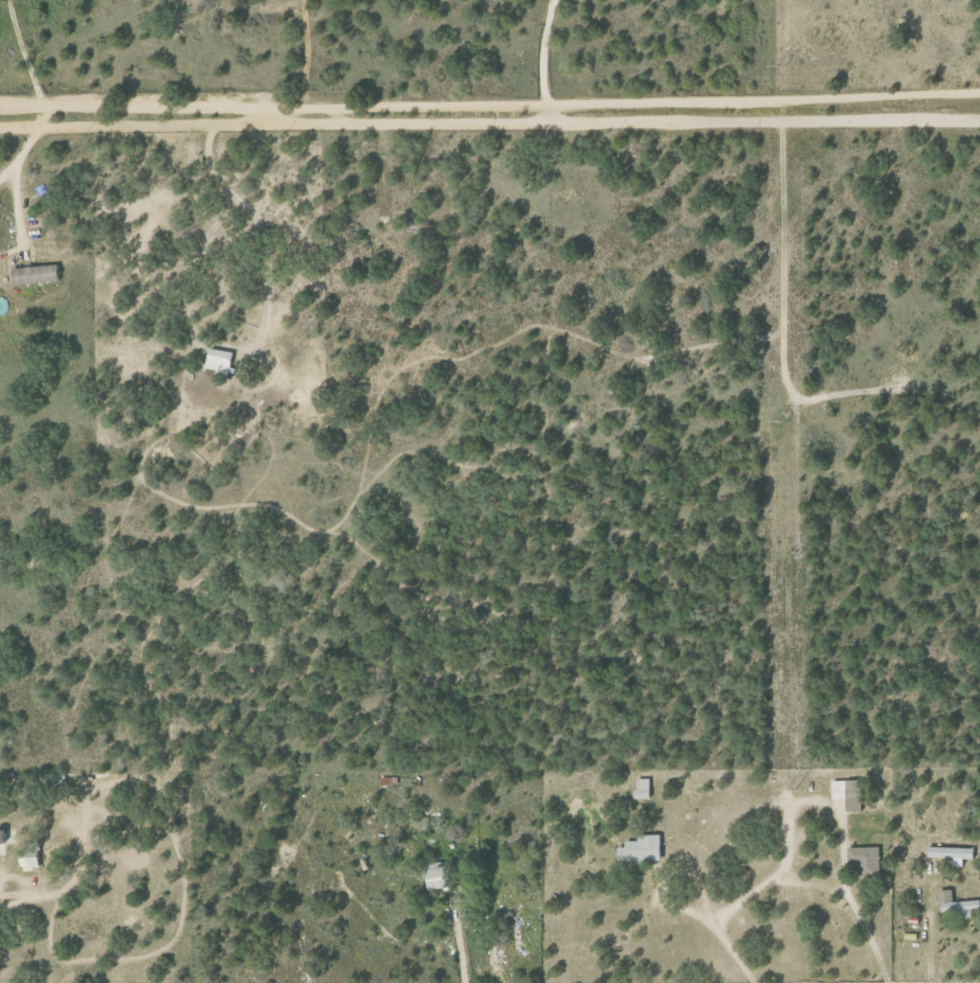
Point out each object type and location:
road: (537, 52)
road: (23, 54)
power tower: (782, 64)
road: (762, 99)
road: (22, 106)
road: (294, 107)
road: (490, 121)
road: (34, 144)
road: (10, 171)
road: (20, 215)
building: (37, 275)
building: (221, 361)
power tower: (782, 421)
building: (640, 788)
power tower: (791, 790)
building: (846, 793)
road: (825, 804)
building: (3, 836)
building: (638, 849)
building: (950, 853)
building: (861, 858)
building: (33, 860)
building: (433, 876)
road: (810, 882)
building: (954, 904)
road: (954, 931)
road: (717, 932)
road: (927, 935)
road: (457, 945)

